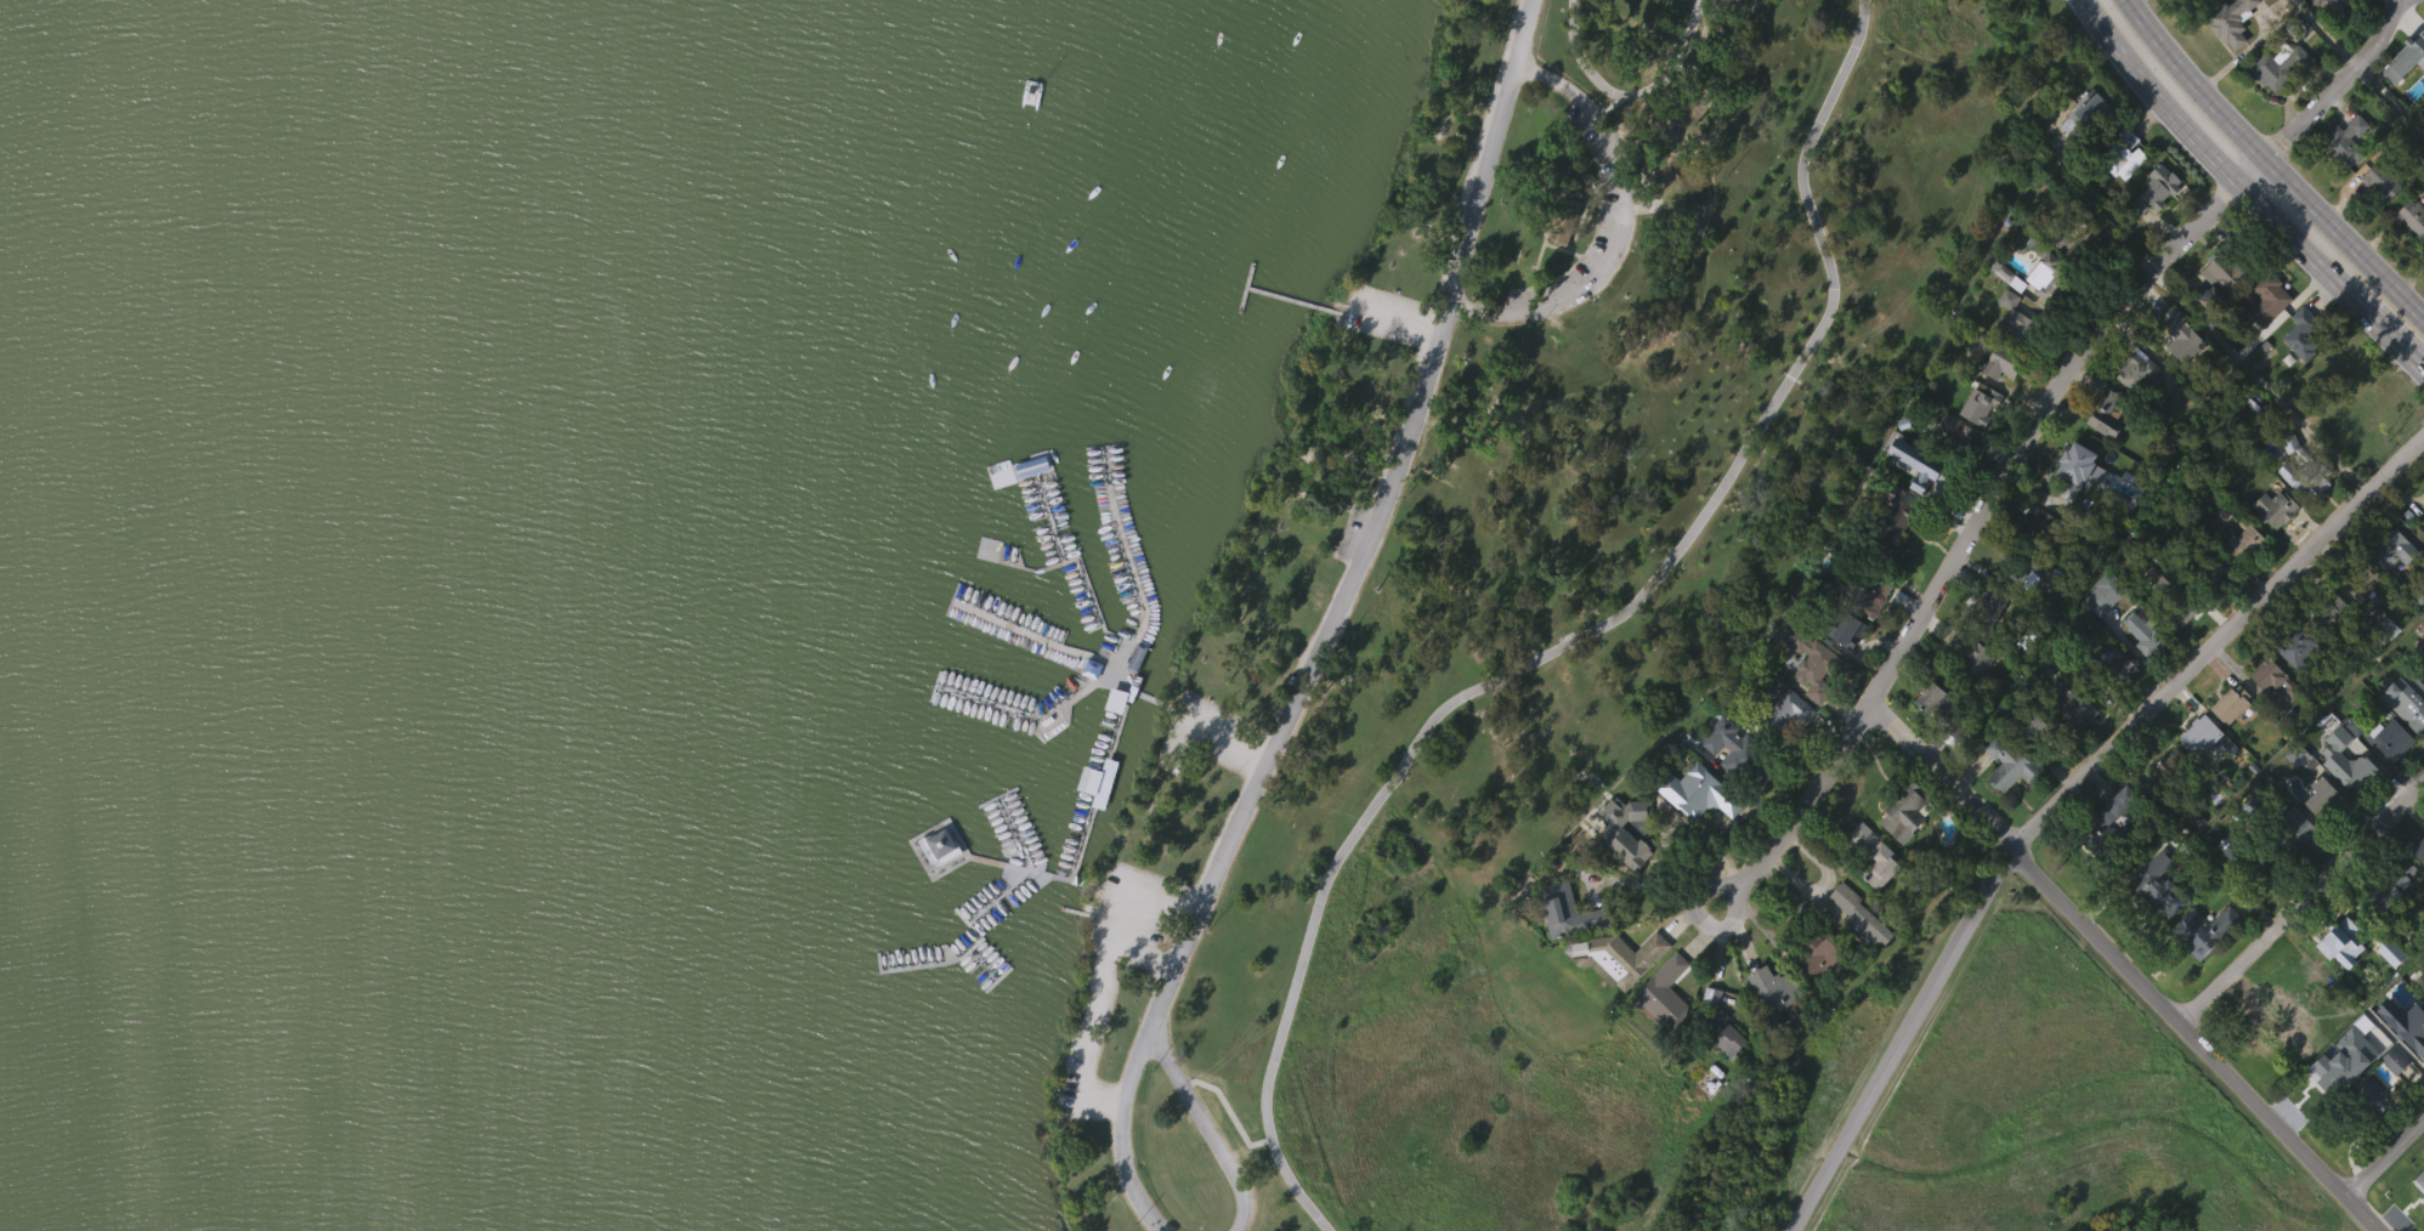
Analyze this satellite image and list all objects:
building: (2197, 2)
building: (2334, 4)
building: (2230, 22)
building: (2332, 39)
building: (2412, 53)
building: (2231, 63)
building: (2282, 66)
road: (2352, 72)
building: (2423, 73)
road: (2194, 81)
road: (1632, 95)
road: (2154, 95)
road: (2391, 100)
building: (2276, 109)
building: (2089, 115)
road: (2283, 138)
building: (2344, 141)
road: (2270, 151)
building: (2124, 155)
building: (2084, 161)
road: (2252, 169)
building: (2377, 185)
building: (2344, 186)
building: (2156, 189)
building: (2129, 192)
building: (2409, 219)
building: (1562, 220)
building: (2378, 226)
road: (1620, 227)
building: (2159, 232)
road: (2344, 236)
road: (2299, 242)
building: (2090, 248)
building: (2412, 262)
building: (2009, 277)
building: (2224, 278)
building: (2061, 279)
pier: (1245, 288)
pier: (1295, 300)
building: (2271, 302)
building: (2005, 319)
building: (2020, 319)
building: (2044, 319)
building: (2218, 324)
building: (2305, 333)
road: (2391, 334)
building: (2182, 335)
building: (2267, 342)
building: (2000, 354)
building: (2136, 370)
building: (2303, 376)
building: (2179, 380)
road: (2260, 380)
building: (1982, 404)
building: (1998, 409)
building: (2106, 410)
building: (2134, 415)
building: (1956, 438)
building: (1978, 448)
building: (2102, 456)
building: (2073, 469)
building: (1956, 475)
building: (2303, 477)
building: (1937, 481)
building: (2423, 486)
building: (2276, 507)
building: (1899, 509)
building: (1920, 510)
pier: (1047, 512)
building: (2160, 512)
building: (2072, 514)
building: (2300, 522)
building: (2044, 526)
road: (1967, 534)
building: (2245, 541)
building: (2389, 549)
building: (2272, 552)
building: (1890, 560)
pier: (1133, 568)
pier: (1084, 572)
building: (2210, 572)
building: (2362, 580)
building: (1868, 590)
building: (2009, 592)
building: (2391, 594)
building: (2176, 600)
building: (2324, 609)
park: (965, 613)
building: (2029, 613)
building: (2216, 614)
building: (2381, 623)
road: (1330, 625)
building: (1847, 625)
building: (2357, 630)
building: (2148, 632)
road: (1578, 635)
pier: (1030, 637)
building: (2102, 637)
building: (1869, 641)
building: (2173, 641)
road: (2219, 642)
building: (2298, 645)
building: (1973, 656)
building: (2315, 658)
building: (1817, 659)
building: (2375, 663)
building: (2124, 671)
building: (1847, 675)
building: (2273, 680)
building: (2145, 682)
building: (2294, 691)
building: (1965, 694)
pier: (1154, 699)
building: (1932, 699)
building: (2405, 699)
building: (1809, 703)
building: (2082, 703)
building: (2230, 704)
building: (2119, 713)
building: (1784, 715)
pier: (1042, 716)
building: (2270, 720)
building: (2045, 727)
building: (2203, 733)
building: (2390, 738)
building: (1930, 742)
building: (2230, 745)
building: (2073, 748)
building: (1738, 751)
building: (1784, 756)
building: (2009, 764)
building: (2170, 767)
road: (1941, 776)
building: (2358, 776)
building: (2197, 779)
building: (2388, 782)
building: (1092, 784)
building: (1698, 792)
building: (2324, 802)
building: (2345, 805)
building: (2005, 807)
building: (1909, 811)
building: (2159, 813)
building: (2107, 826)
building: (1630, 830)
building: (2296, 832)
building: (1697, 836)
pier: (1084, 838)
building: (2320, 840)
building: (936, 843)
building: (2419, 850)
building: (1903, 856)
building: (1871, 857)
building: (2249, 857)
building: (2107, 861)
building: (2293, 870)
building: (1625, 874)
road: (1646, 885)
building: (939, 889)
building: (2390, 890)
building: (2157, 892)
building: (1873, 898)
building: (2419, 898)
road: (2304, 904)
building: (1567, 911)
building: (1862, 917)
building: (2156, 930)
building: (2211, 930)
building: (2391, 930)
building: (2340, 934)
pier: (978, 940)
building: (1567, 955)
building: (1822, 955)
building: (1621, 957)
pier: (984, 963)
building: (1859, 963)
building: (2203, 974)
pier: (998, 977)
building: (2339, 986)
building: (1766, 991)
building: (1669, 995)
building: (1622, 997)
building: (2389, 997)
building: (1818, 998)
building: (2278, 1016)
building: (1722, 1019)
building: (1772, 1031)
building: (1663, 1034)
road: (1902, 1038)
building: (1710, 1039)
road: (2194, 1039)
building: (2277, 1059)
building: (2330, 1068)
building: (1722, 1078)
building: (2371, 1097)
building: (2391, 1104)
building: (2339, 1105)
road: (1206, 1127)
building: (2372, 1139)
road: (2385, 1159)
building: (2419, 1223)
building: (2419, 1230)

